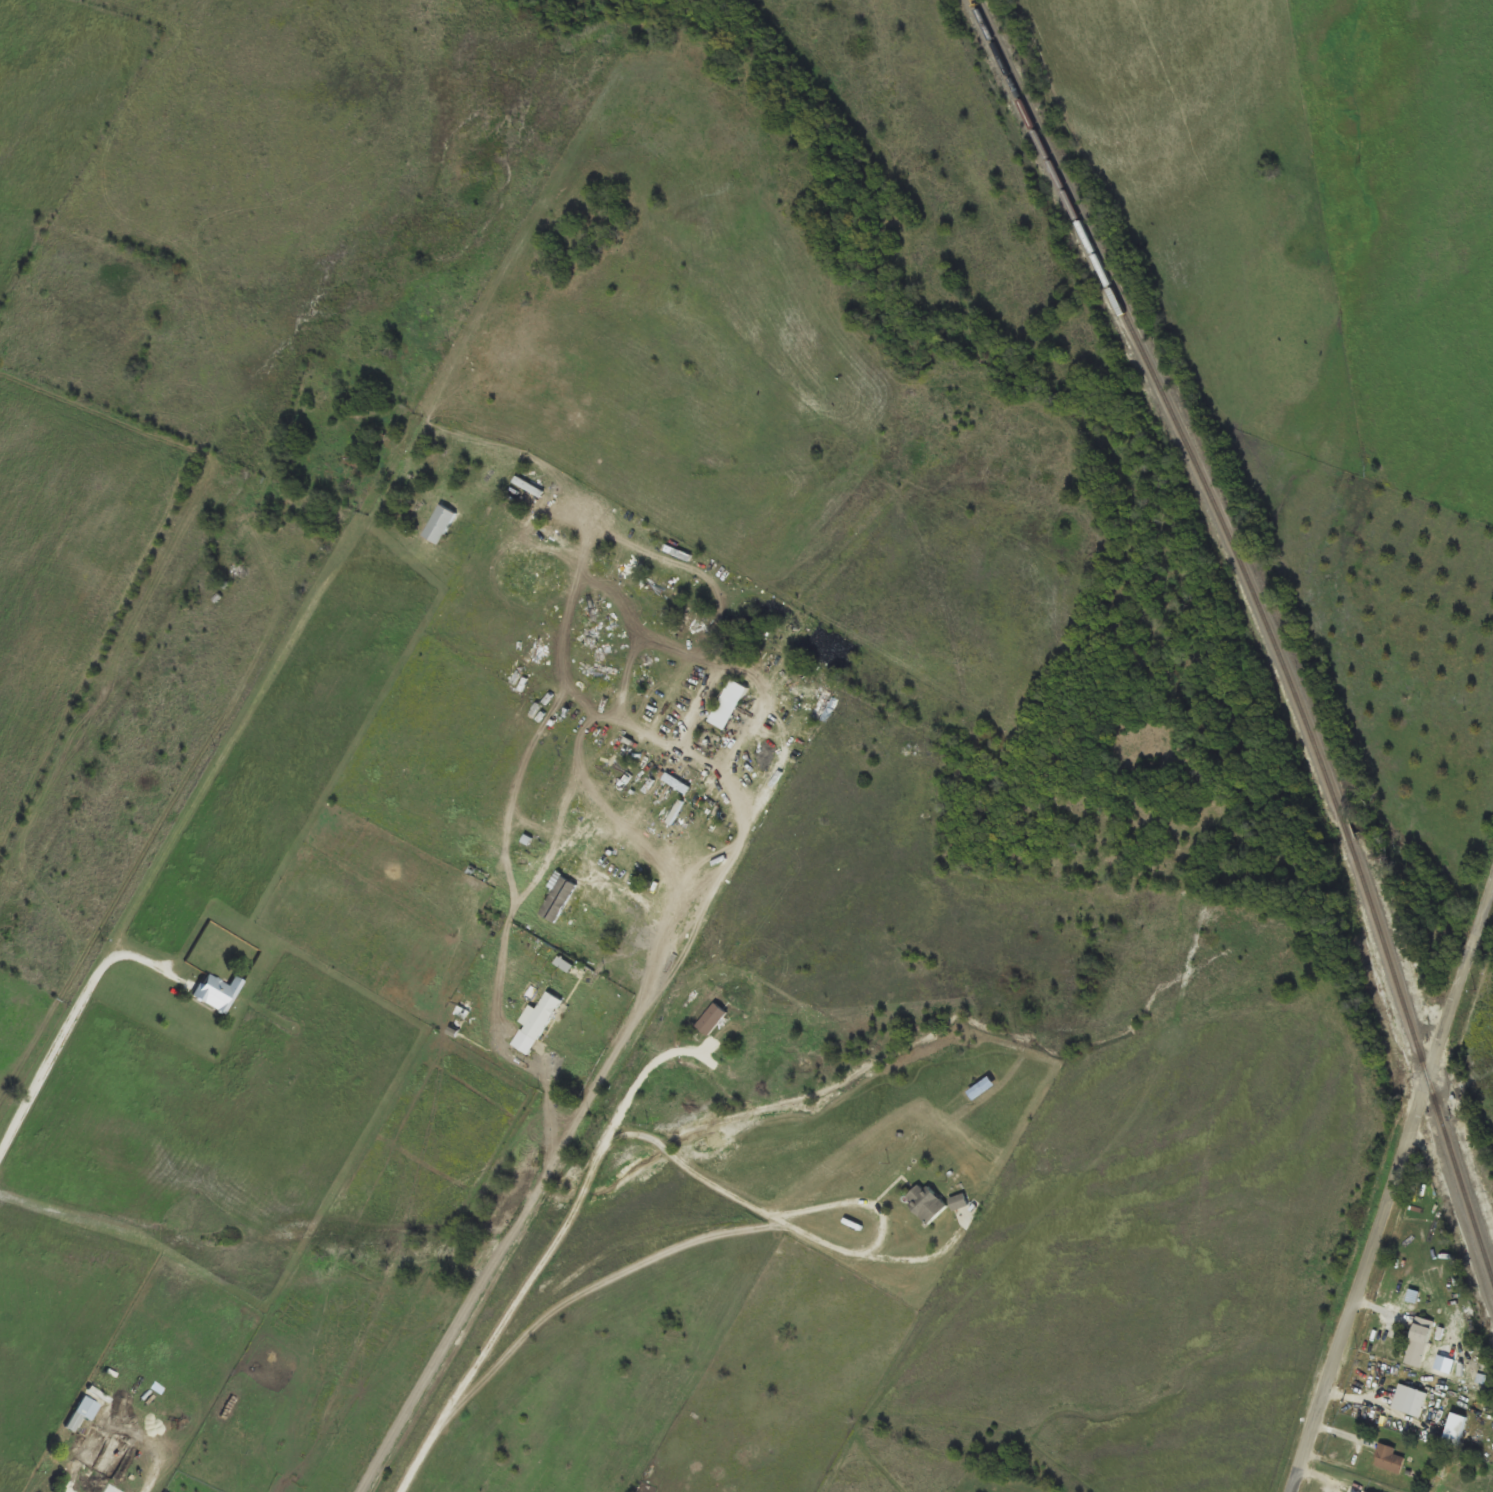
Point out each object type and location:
building: (440, 525)
railway: (1269, 625)
building: (728, 705)
building: (217, 993)
building: (536, 1023)
road: (72, 1043)
road: (552, 1161)
road: (1389, 1187)
building: (925, 1203)
road: (879, 1227)
road: (555, 1308)
building: (1419, 1341)
building: (1410, 1400)
building: (87, 1408)
building: (1455, 1429)
building: (1389, 1458)
building: (112, 1488)
building: (1364, 1491)

